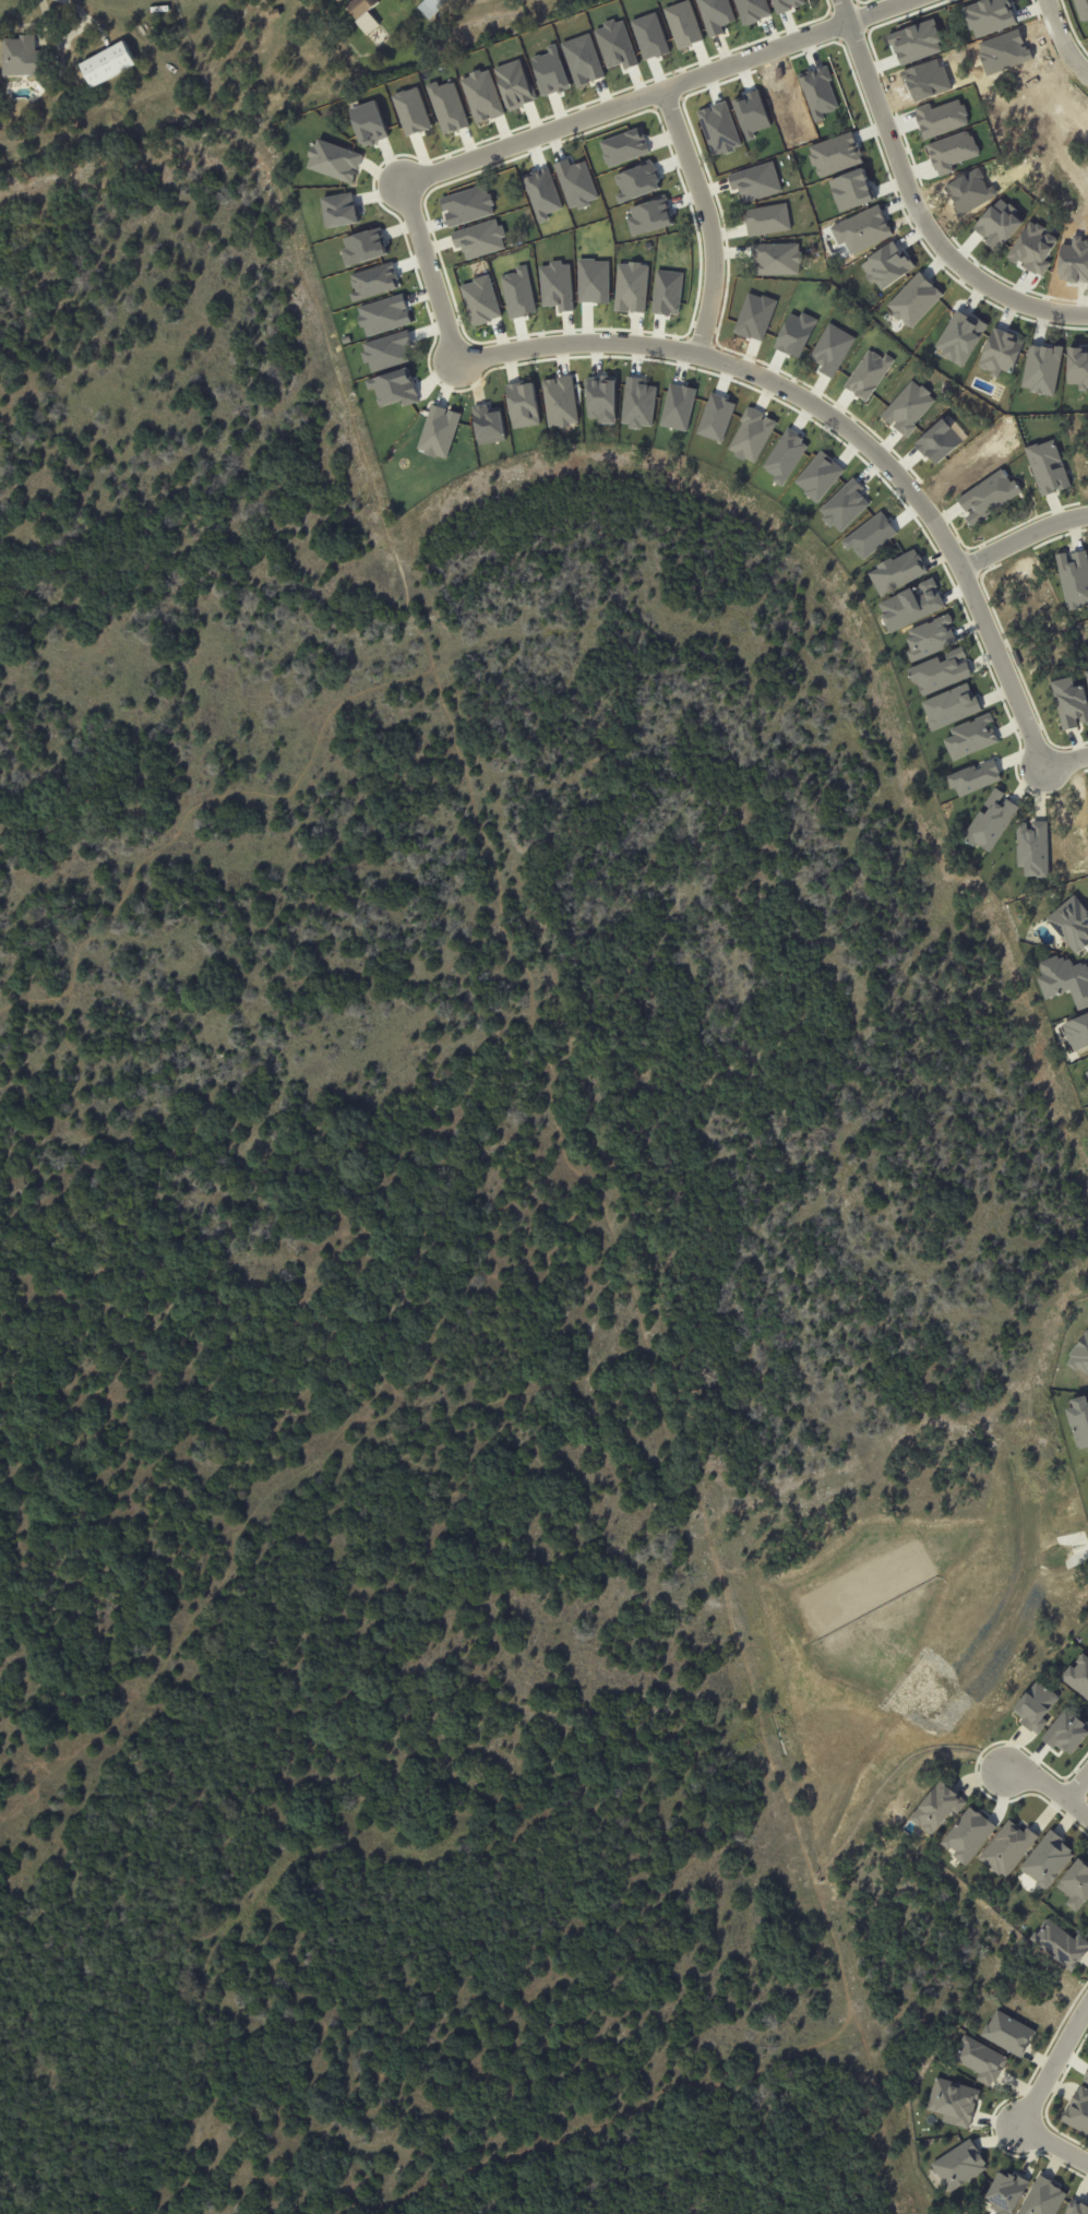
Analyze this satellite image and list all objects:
building: (338, 0)
building: (429, 7)
building: (1081, 8)
road: (841, 11)
road: (874, 11)
building: (273, 14)
building: (363, 15)
building: (988, 15)
building: (142, 19)
road: (1063, 36)
building: (914, 39)
building: (1002, 50)
building: (24, 58)
building: (108, 66)
road: (536, 136)
road: (920, 214)
road: (708, 217)
road: (839, 420)
building: (1047, 467)
building: (988, 496)
road: (1021, 533)
building: (897, 572)
building: (1074, 578)
building: (930, 638)
building: (940, 671)
building: (1086, 676)
building: (1069, 703)
building: (949, 706)
building: (970, 737)
road: (1064, 761)
road: (198, 807)
building: (990, 821)
building: (1032, 848)
building: (1071, 924)
road: (530, 1020)
building: (1076, 1033)
park: (447, 1252)
building: (1079, 1421)
building: (1078, 1676)
building: (1035, 1706)
building: (1066, 1733)
road: (1077, 1785)
road: (1049, 1786)
building: (936, 1808)
building: (967, 1835)
building: (1006, 1848)
building: (1047, 1859)
building: (1075, 1884)
building: (1060, 1944)
building: (1007, 2033)
building: (979, 2060)
building: (1086, 2076)
road: (1035, 2096)
building: (953, 2102)
building: (1077, 2111)
building: (959, 2165)
building: (1004, 2192)
building: (1042, 2198)
building: (1076, 2207)

